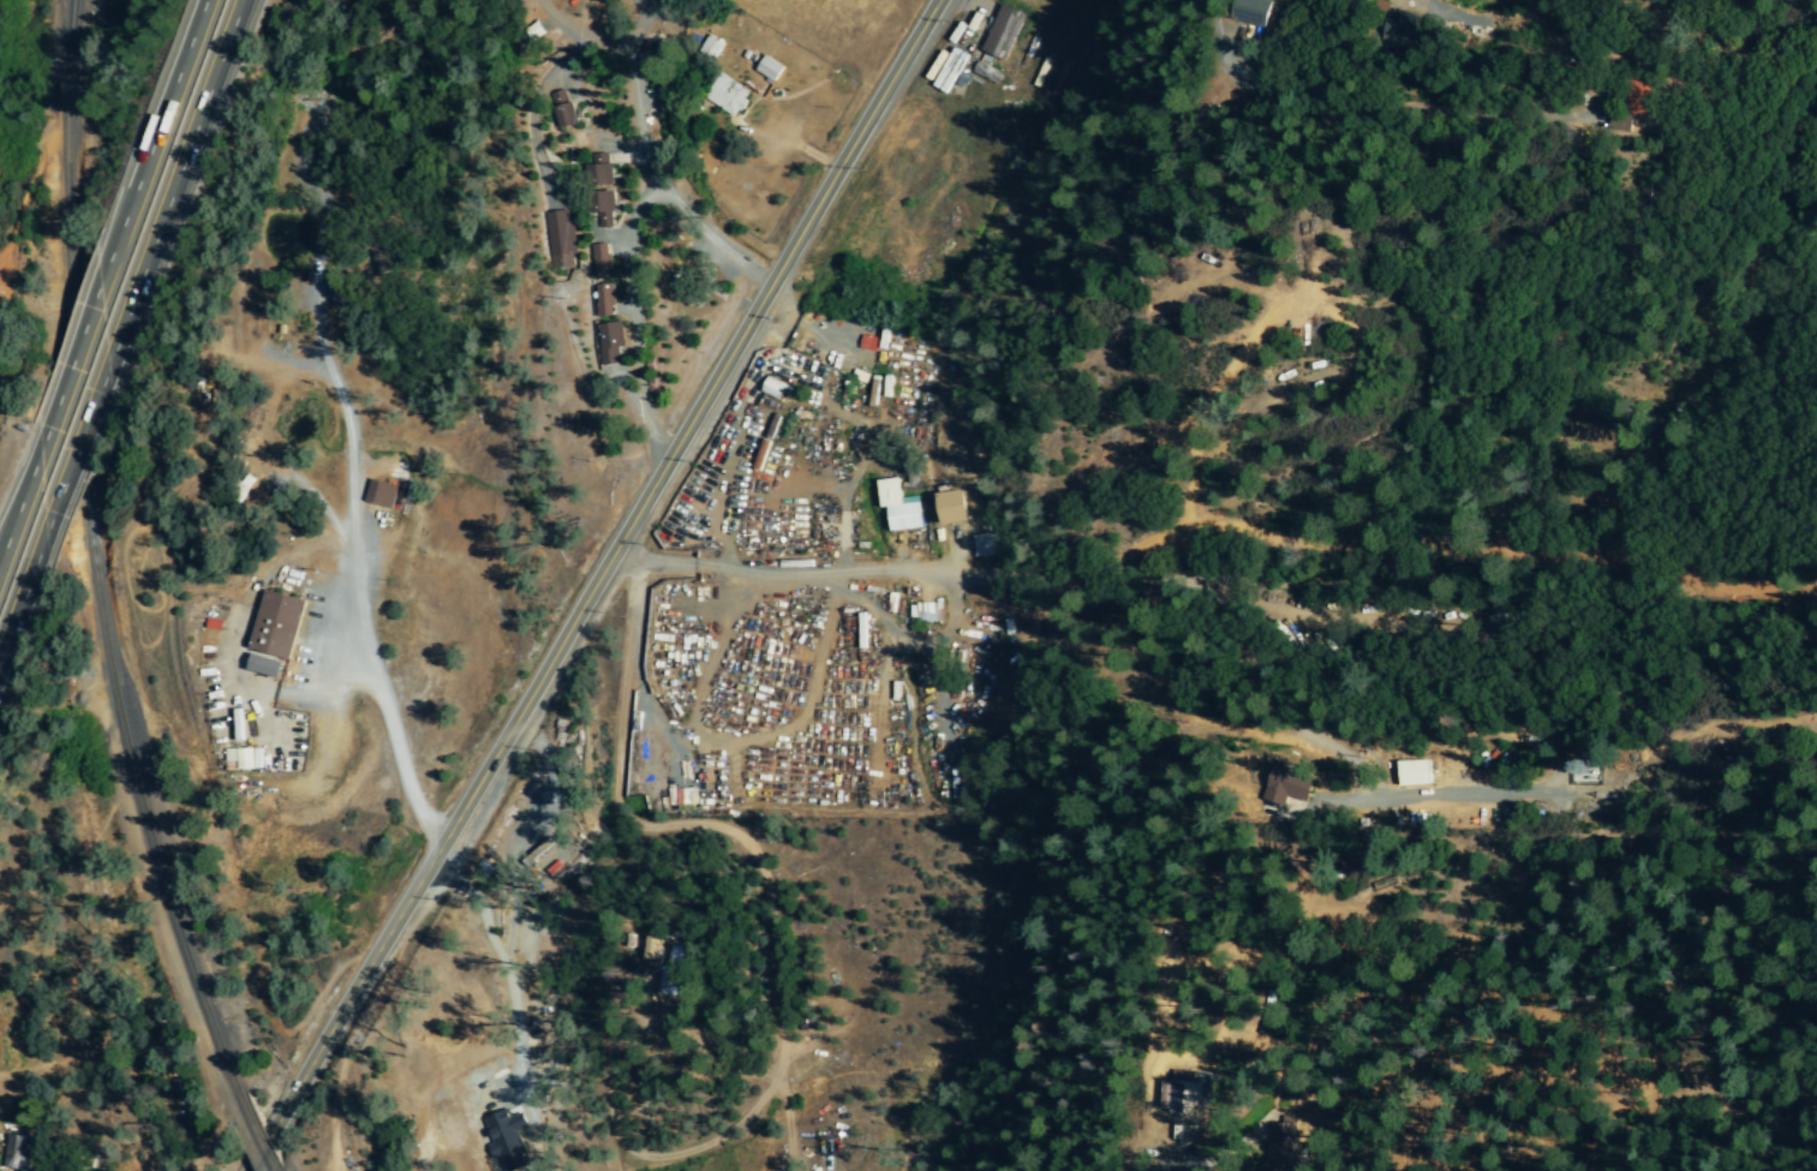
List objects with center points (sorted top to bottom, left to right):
building: (1251, 12)
building: (1003, 32)
road: (585, 43)
building: (710, 47)
building: (769, 68)
building: (986, 72)
building: (727, 95)
road: (171, 97)
building: (563, 110)
road: (195, 162)
building: (602, 189)
building: (558, 239)
road: (624, 252)
building: (603, 301)
road: (79, 339)
building: (609, 343)
road: (692, 416)
road: (84, 458)
building: (379, 495)
building: (897, 506)
building: (952, 508)
road: (12, 520)
railway: (92, 562)
road: (861, 574)
building: (925, 613)
building: (276, 625)
road: (366, 631)
road: (633, 635)
road: (18, 640)
building: (264, 667)
building: (243, 759)
building: (1415, 775)
building: (1289, 785)
road: (395, 919)
building: (657, 950)
road: (497, 957)
building: (677, 978)
road: (292, 1088)
building: (1187, 1099)
railway: (259, 1137)
building: (17, 1153)
road: (1217, 1158)

